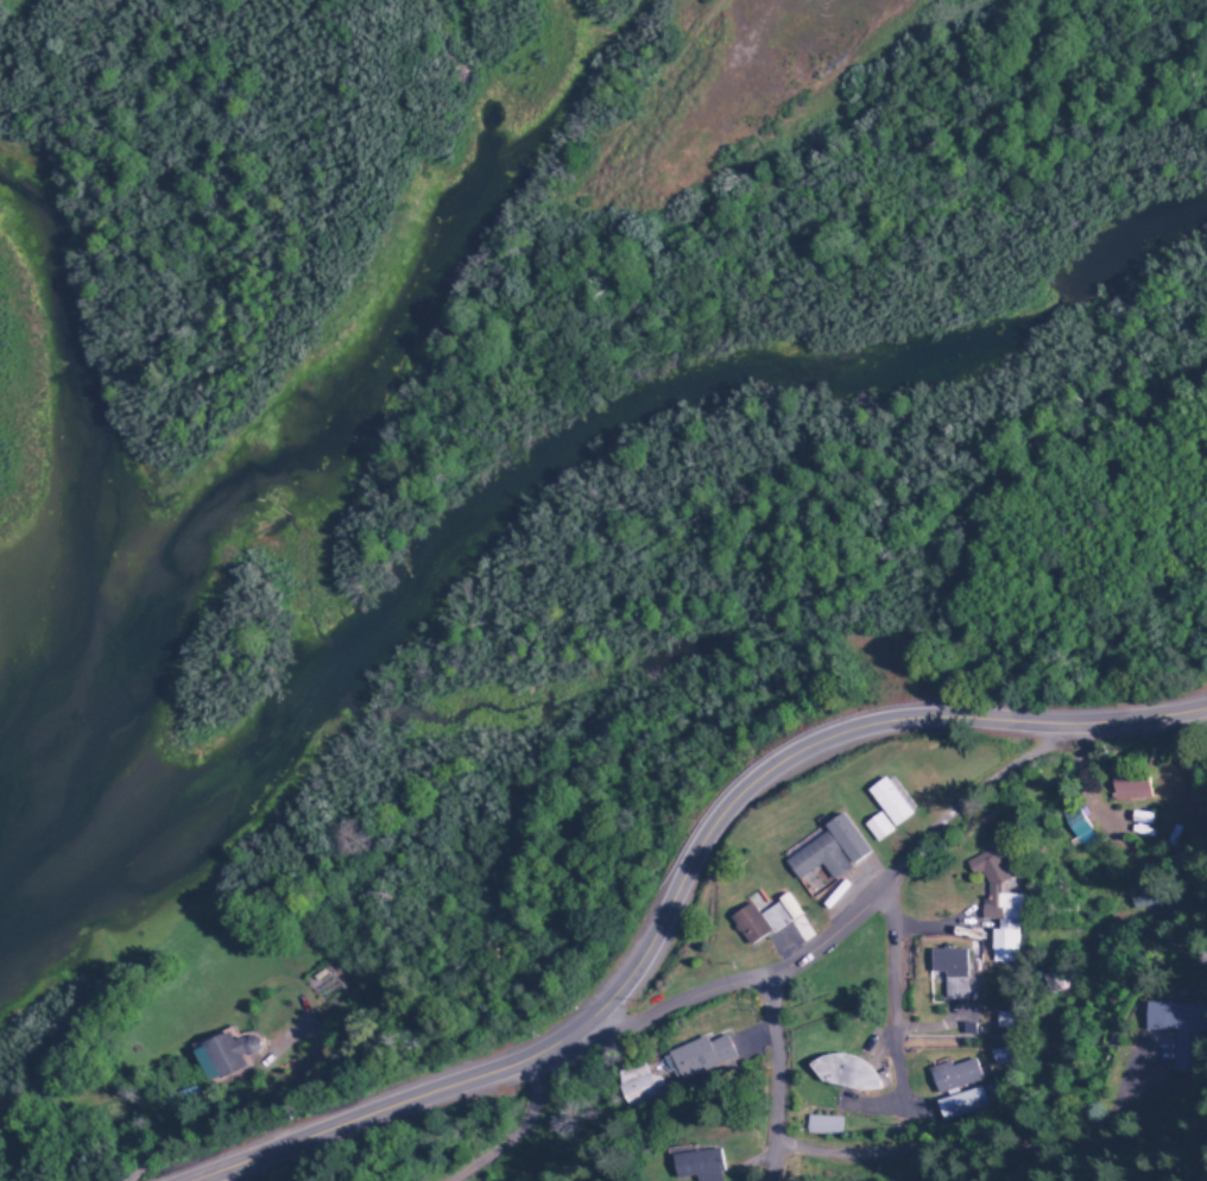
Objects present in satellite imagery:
building: (1131, 787)
building: (889, 807)
building: (1184, 814)
building: (1079, 827)
building: (877, 832)
building: (846, 844)
building: (817, 864)
building: (992, 871)
road: (681, 872)
building: (1143, 903)
road: (852, 914)
building: (759, 926)
building: (1003, 933)
building: (947, 977)
road: (886, 1004)
building: (1178, 1028)
building: (699, 1060)
building: (996, 1060)
building: (221, 1061)
building: (843, 1076)
building: (952, 1079)
road: (773, 1081)
building: (636, 1093)
building: (956, 1107)
building: (822, 1130)
road: (991, 1154)
building: (697, 1168)

